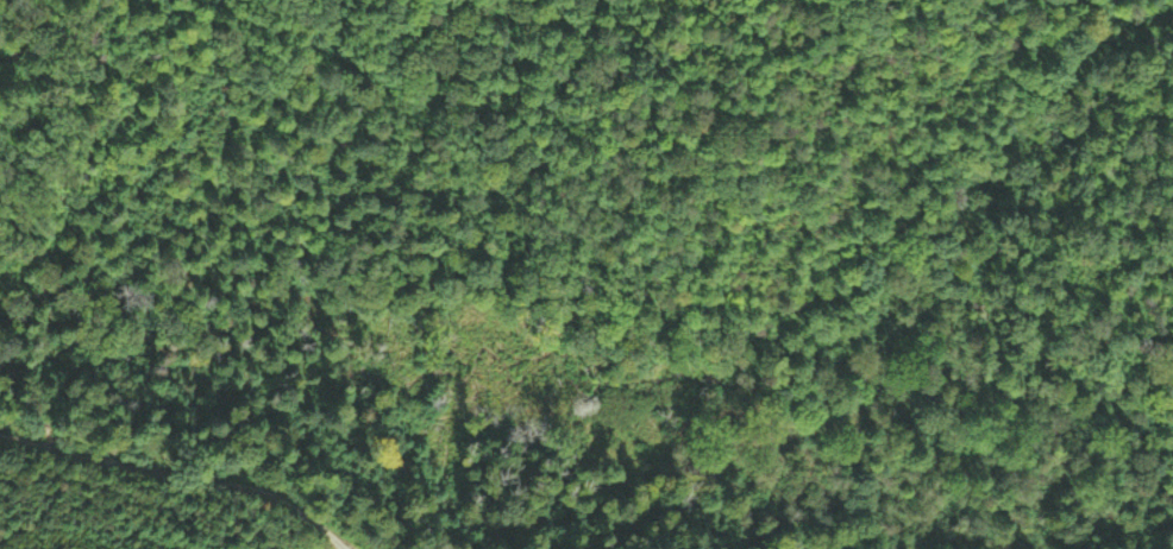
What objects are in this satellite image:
road: (177, 480)

